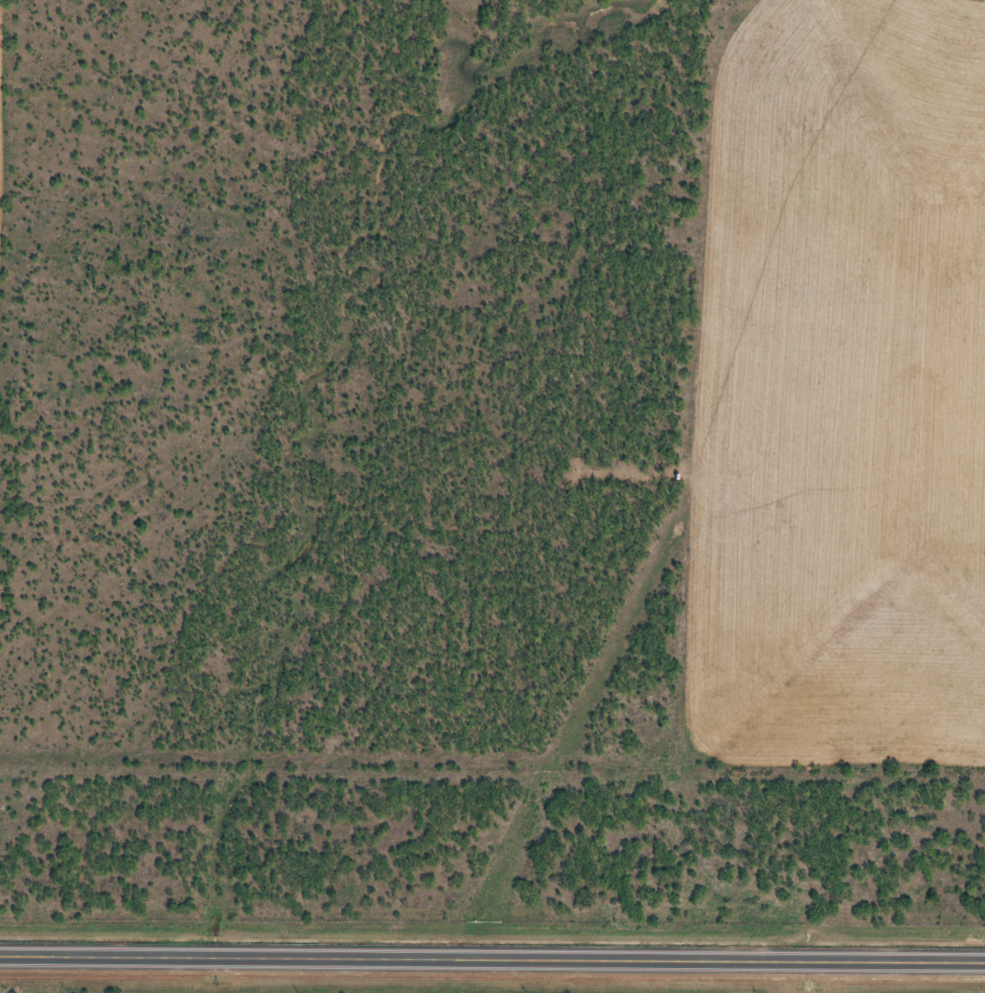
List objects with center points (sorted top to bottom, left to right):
road: (492, 959)

